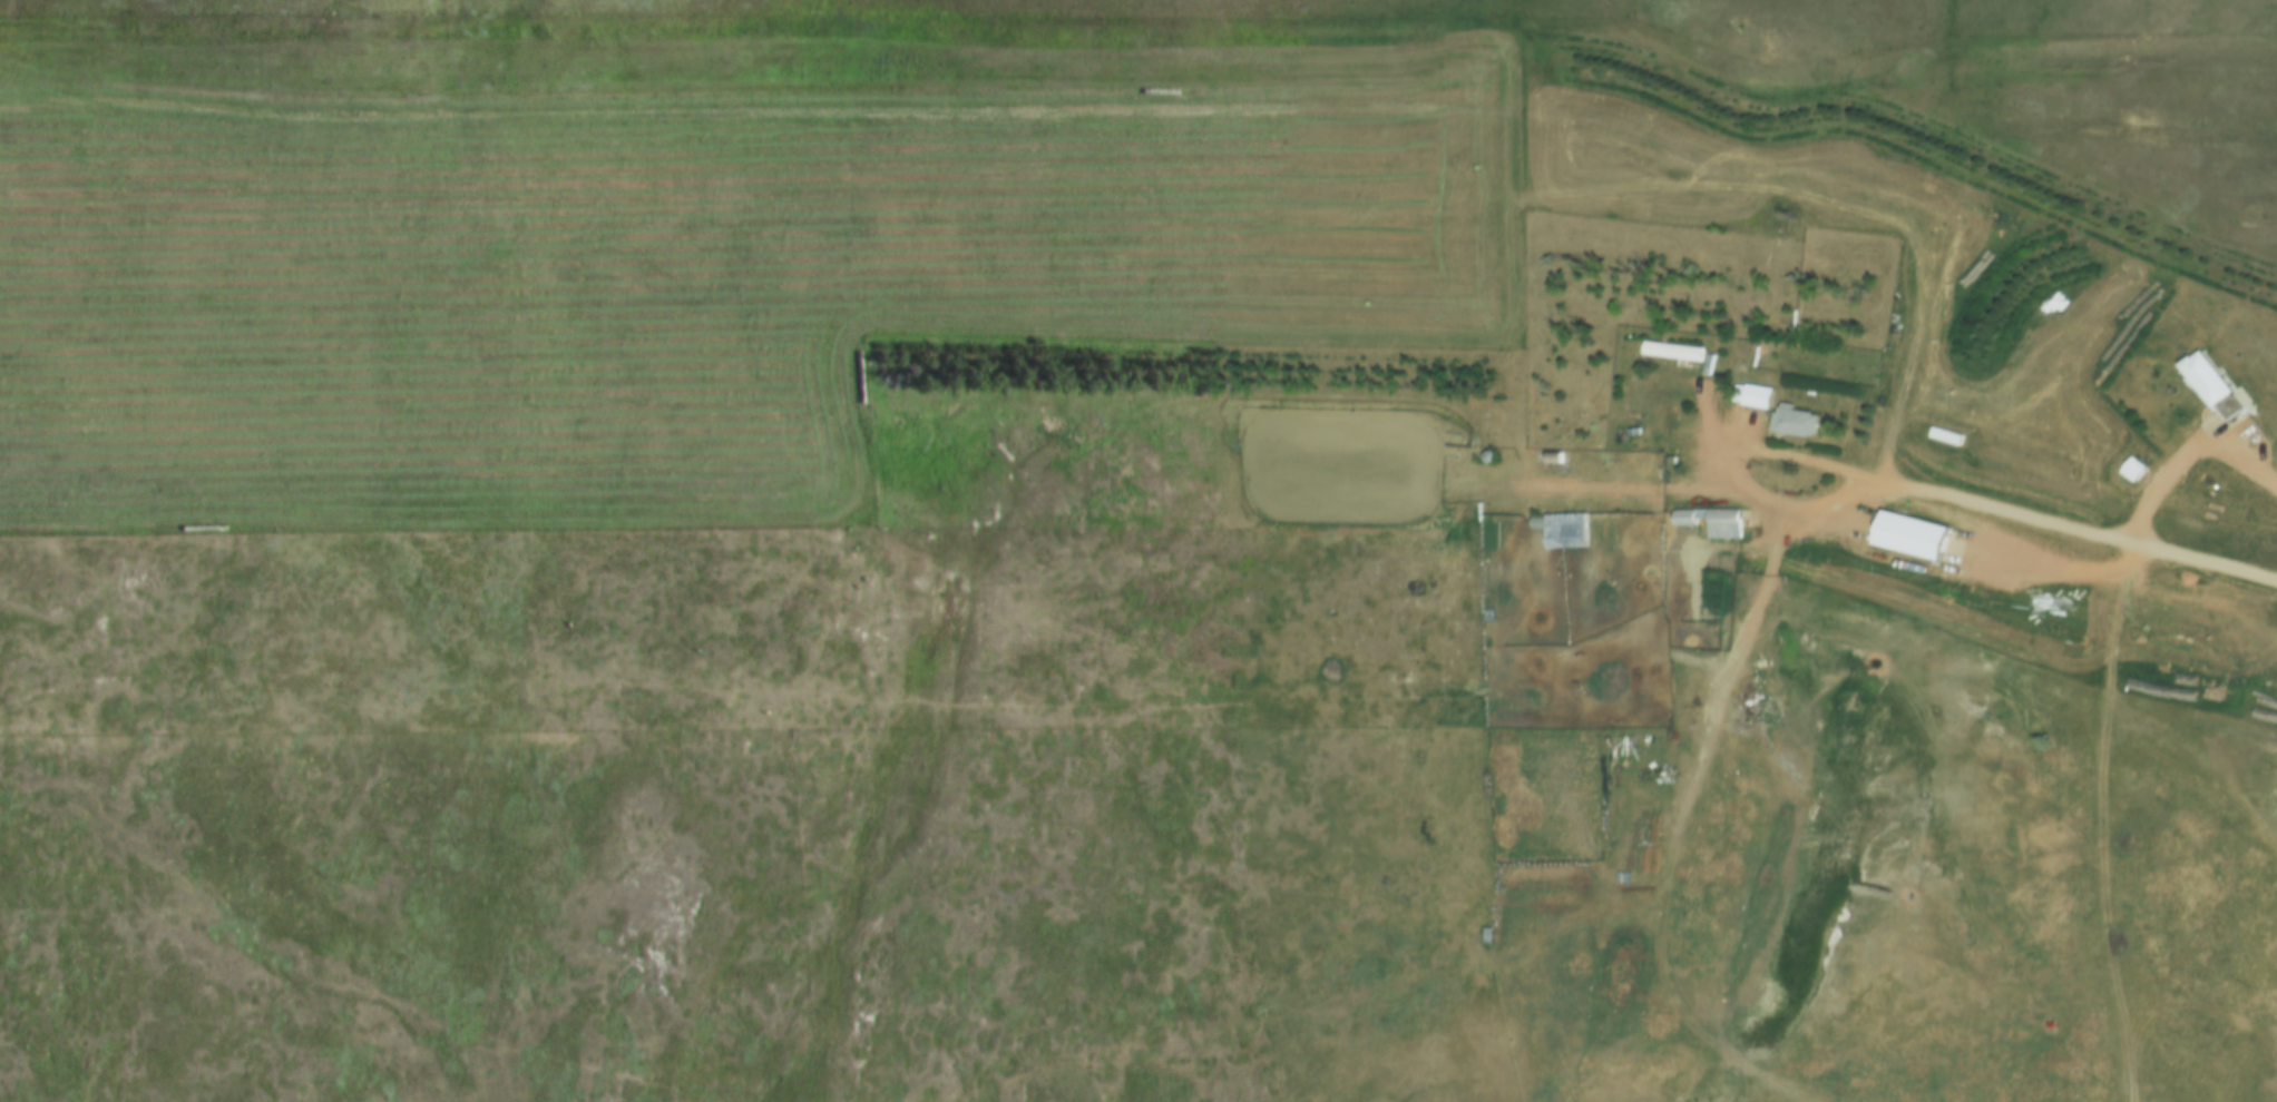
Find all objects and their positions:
building: (1889, 337)
building: (1665, 353)
building: (2208, 384)
building: (1751, 399)
building: (1787, 423)
building: (1548, 459)
building: (2125, 473)
road: (1732, 482)
building: (1679, 520)
building: (1719, 525)
building: (1557, 531)
road: (2066, 537)
building: (1905, 538)
building: (1479, 619)
building: (1695, 639)
road: (2107, 826)

